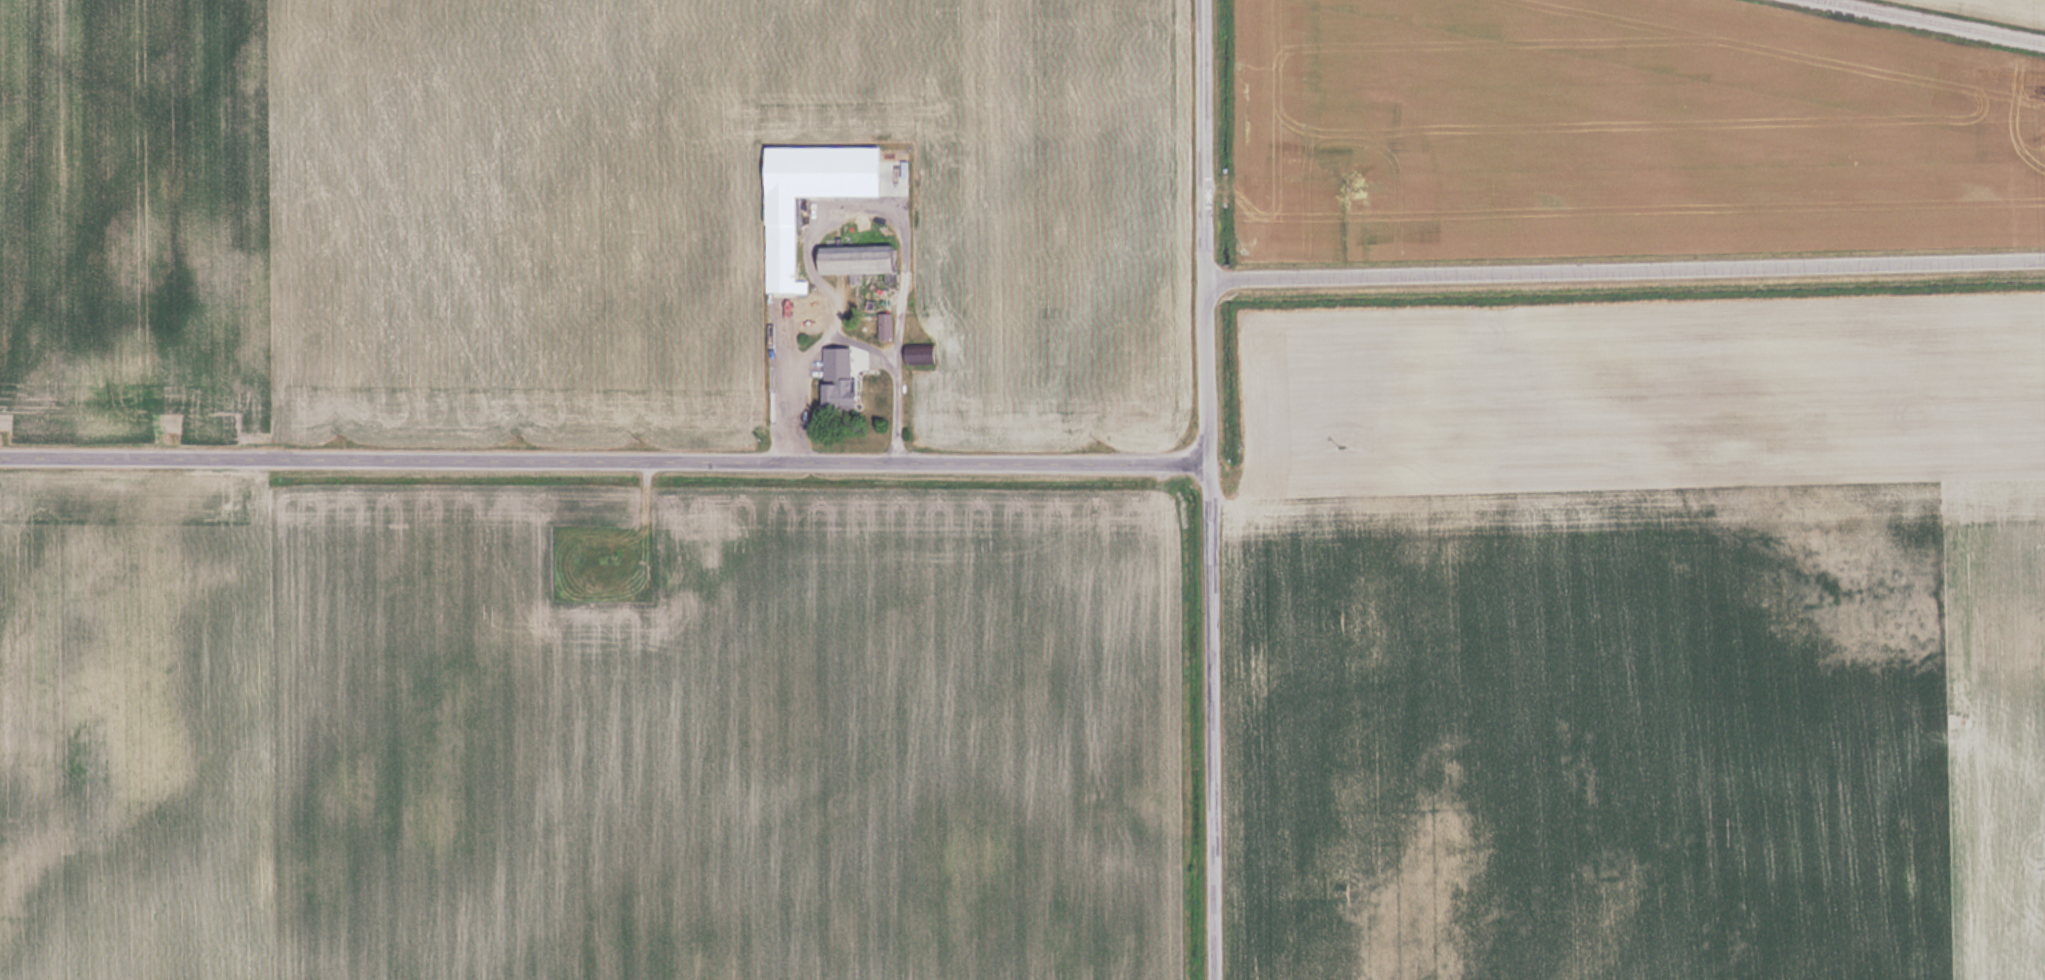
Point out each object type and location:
railway: (1933, 21)
road: (1205, 141)
building: (779, 259)
building: (850, 260)
road: (1625, 272)
building: (884, 326)
road: (842, 332)
building: (917, 355)
road: (1208, 374)
building: (835, 386)
road: (605, 463)
road: (1213, 722)

